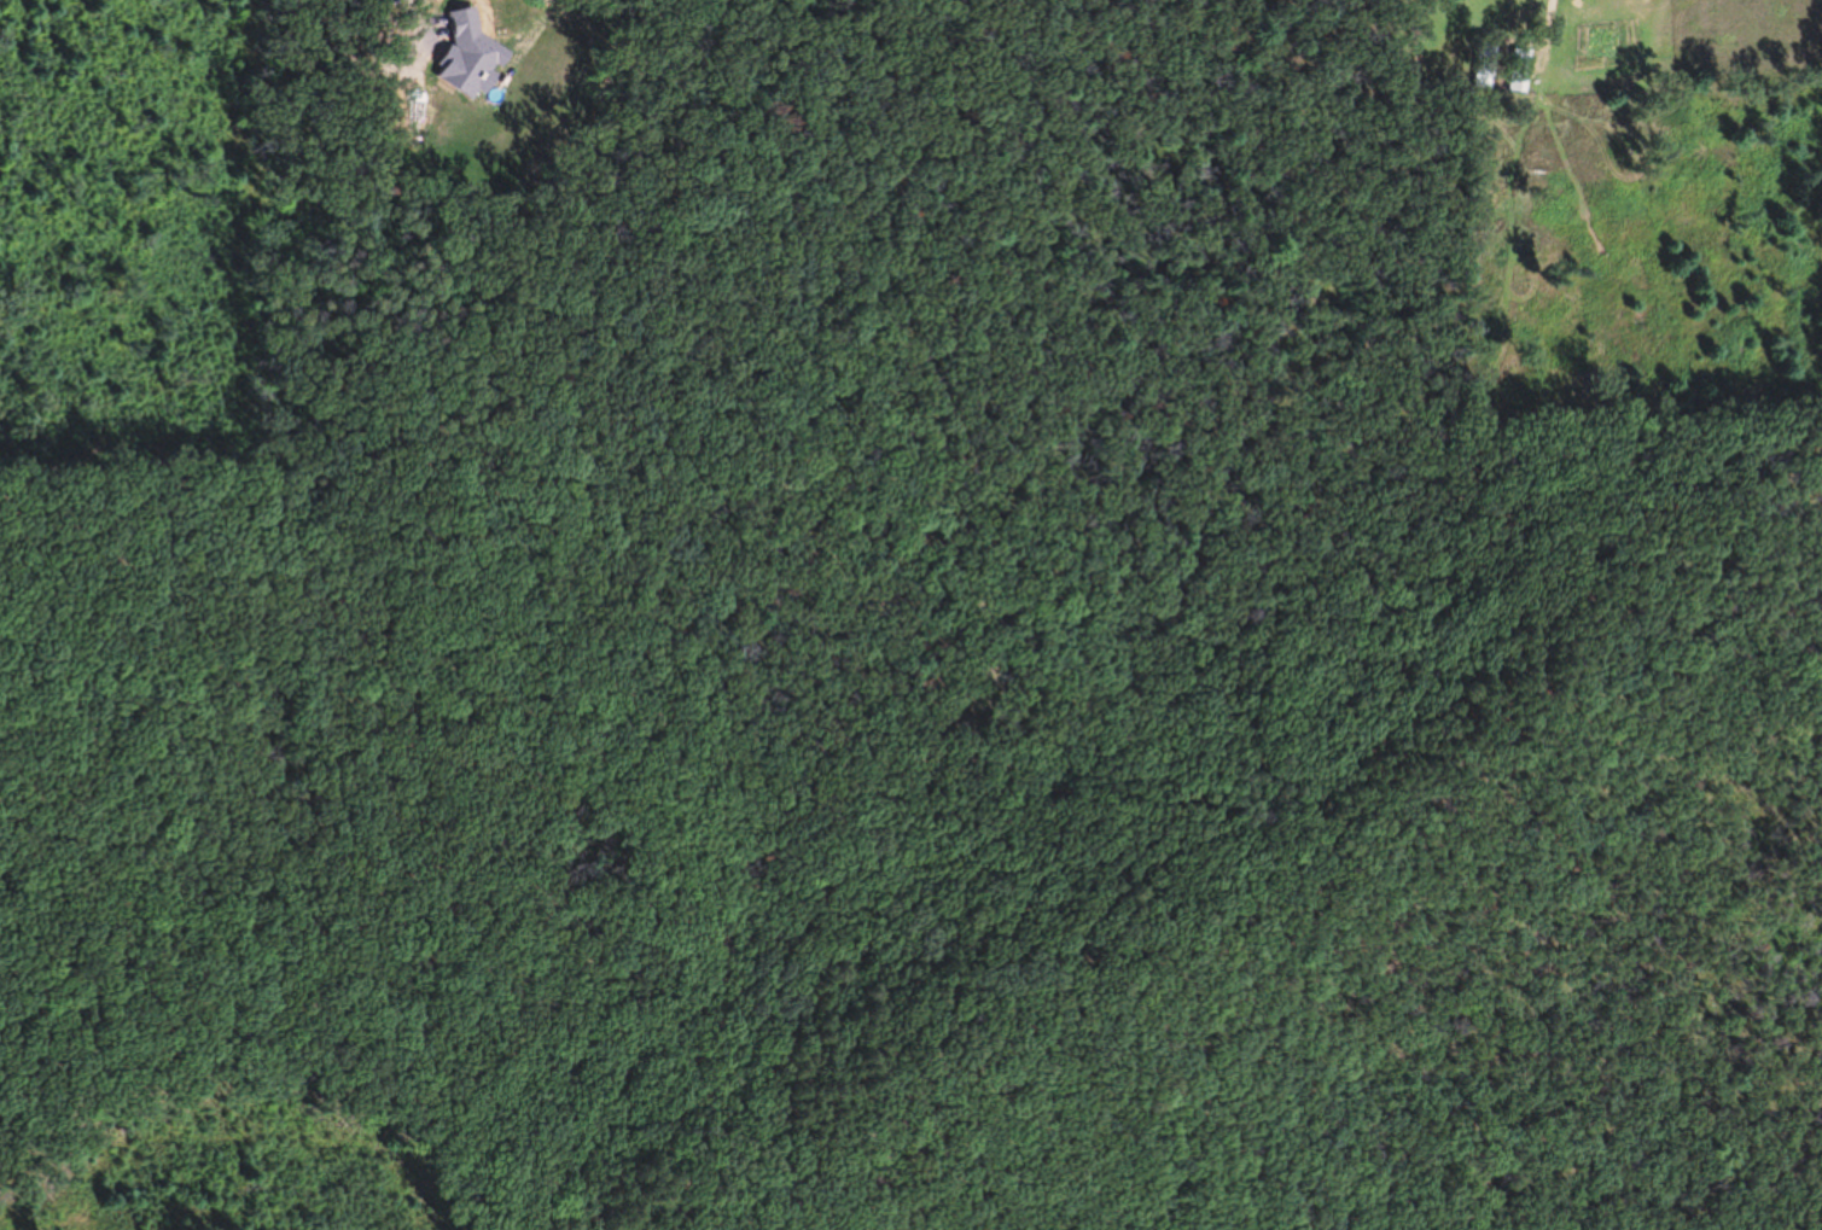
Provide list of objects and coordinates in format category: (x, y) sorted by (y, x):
road: (1547, 57)
building: (1486, 78)
building: (1524, 81)

